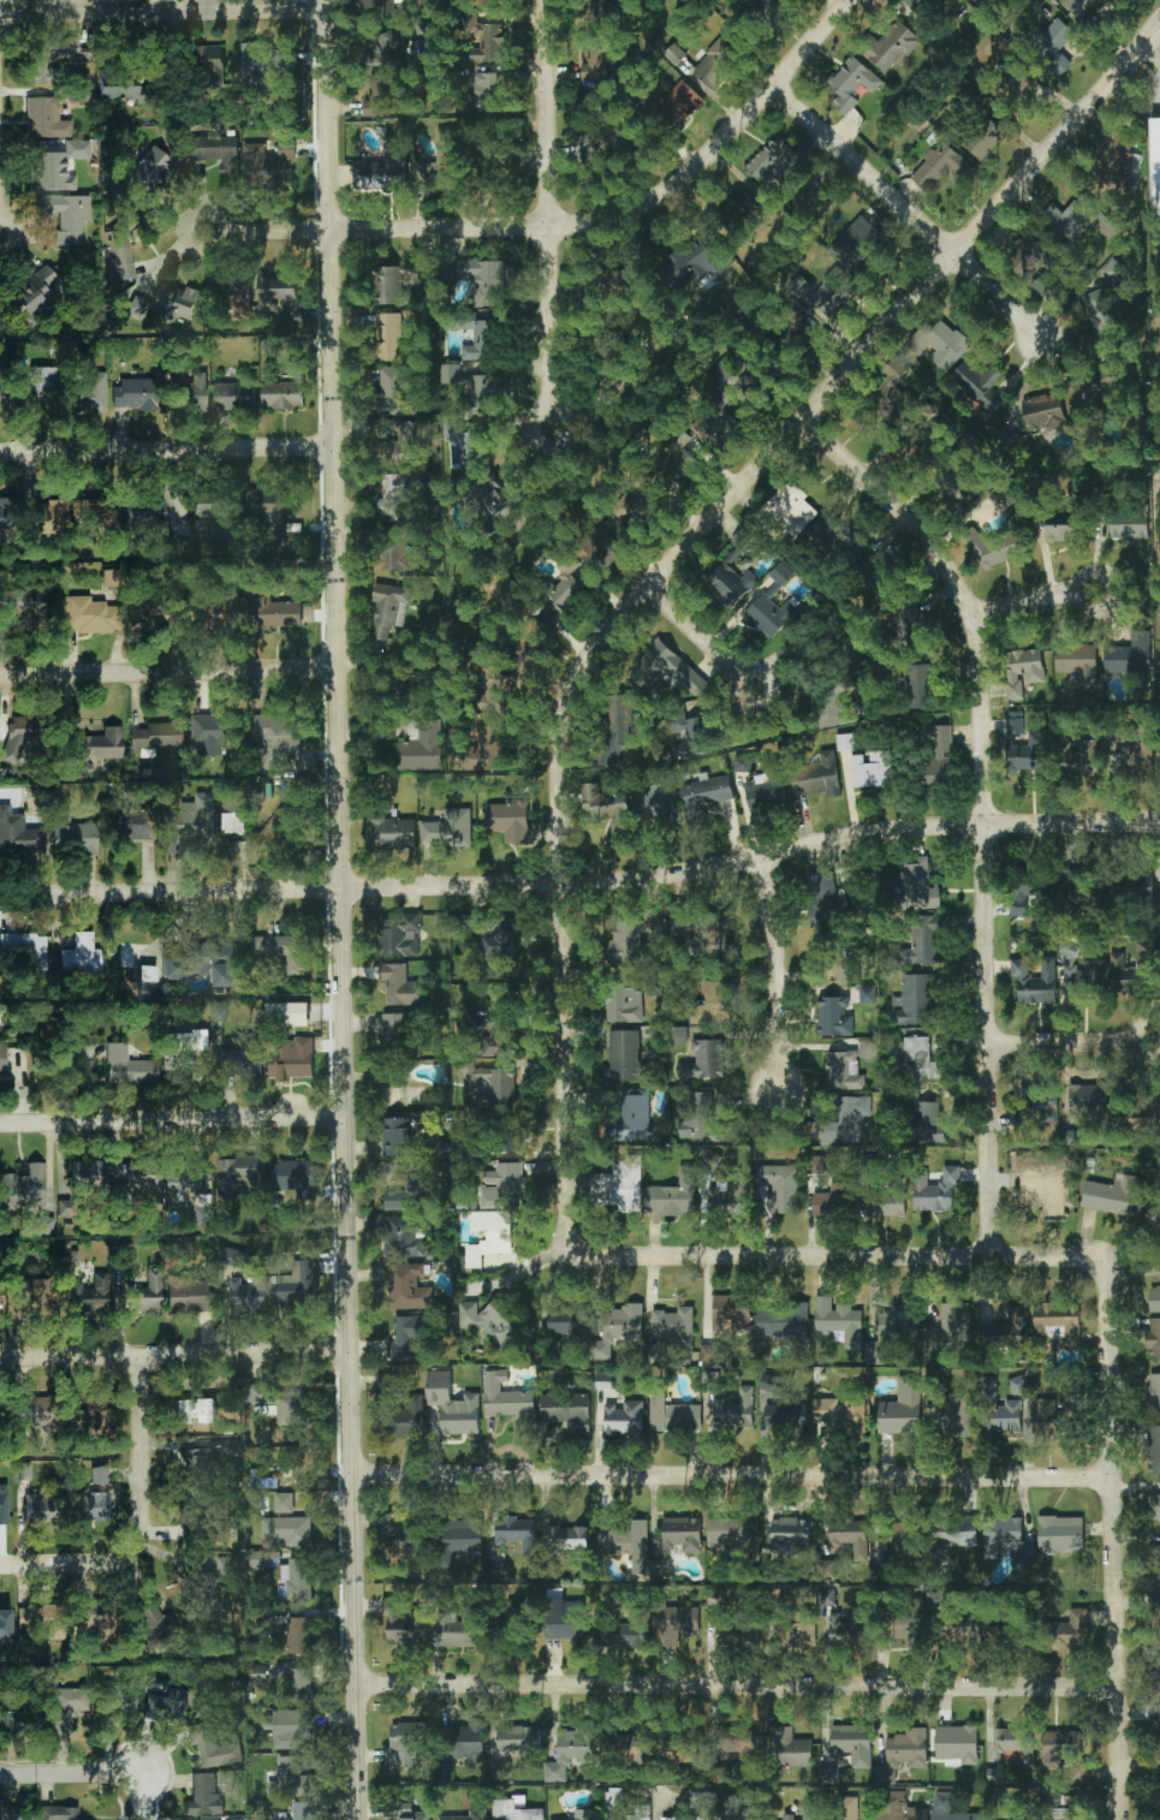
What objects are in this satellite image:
park: (142, 2)
building: (771, 4)
road: (163, 5)
building: (382, 5)
building: (920, 5)
building: (1081, 7)
road: (1158, 38)
building: (488, 42)
building: (1053, 46)
building: (388, 47)
building: (892, 47)
building: (49, 58)
building: (714, 61)
building: (266, 63)
building: (595, 63)
building: (852, 84)
building: (488, 89)
building: (130, 90)
building: (82, 93)
building: (382, 95)
building: (683, 102)
building: (46, 118)
building: (624, 138)
building: (984, 139)
road: (719, 145)
building: (216, 153)
building: (773, 162)
building: (1120, 162)
building: (56, 165)
building: (267, 165)
building: (1154, 166)
building: (149, 167)
building: (940, 167)
building: (444, 168)
building: (381, 172)
building: (739, 208)
road: (912, 213)
building: (67, 215)
road: (546, 215)
building: (1081, 221)
road: (376, 228)
building: (861, 236)
building: (120, 249)
building: (1031, 257)
building: (689, 263)
building: (1114, 272)
building: (480, 280)
building: (389, 285)
building: (1041, 285)
building: (32, 293)
building: (832, 293)
building: (280, 296)
building: (178, 301)
building: (136, 307)
building: (1100, 313)
building: (392, 339)
building: (481, 339)
building: (801, 339)
building: (939, 343)
building: (755, 379)
building: (1, 383)
building: (42, 383)
building: (978, 383)
building: (1095, 386)
building: (475, 388)
building: (285, 389)
building: (88, 392)
building: (397, 392)
building: (136, 393)
building: (190, 393)
building: (237, 393)
building: (1043, 412)
building: (715, 420)
building: (403, 441)
road: (168, 447)
building: (469, 447)
building: (684, 463)
building: (956, 488)
building: (398, 493)
building: (1001, 496)
building: (1079, 498)
building: (267, 506)
building: (646, 506)
building: (209, 508)
building: (786, 510)
building: (144, 511)
building: (99, 515)
building: (46, 517)
building: (6, 519)
building: (1129, 525)
building: (1063, 529)
building: (186, 546)
building: (599, 548)
building: (997, 548)
building: (394, 554)
road: (670, 563)
building: (111, 577)
building: (564, 589)
building: (725, 593)
building: (6, 600)
road: (1035, 600)
building: (774, 605)
building: (226, 609)
building: (275, 611)
building: (386, 613)
building: (89, 615)
building: (145, 615)
building: (909, 626)
road: (703, 636)
building: (1131, 655)
building: (1077, 662)
building: (672, 667)
building: (1023, 670)
road: (168, 672)
building: (921, 686)
building: (498, 692)
building: (1016, 722)
building: (691, 728)
building: (617, 731)
building: (212, 732)
building: (19, 734)
building: (157, 737)
building: (278, 741)
building: (845, 742)
building: (100, 745)
building: (422, 749)
building: (482, 749)
building: (1030, 753)
building: (938, 755)
building: (1082, 757)
building: (742, 763)
building: (872, 769)
building: (816, 777)
building: (766, 789)
building: (706, 795)
building: (655, 802)
road: (984, 804)
building: (606, 807)
building: (191, 821)
building: (510, 821)
building: (233, 822)
building: (135, 823)
building: (448, 829)
building: (18, 833)
building: (395, 833)
building: (73, 835)
building: (847, 875)
road: (582, 881)
building: (916, 886)
building: (1134, 886)
building: (1081, 891)
building: (1025, 893)
building: (825, 902)
road: (343, 910)
building: (701, 930)
building: (635, 935)
building: (400, 936)
building: (501, 940)
building: (922, 942)
building: (1146, 947)
building: (25, 948)
building: (1069, 948)
building: (257, 950)
building: (287, 952)
building: (81, 956)
building: (138, 956)
building: (206, 964)
building: (841, 973)
road: (775, 974)
building: (1130, 976)
building: (1035, 981)
building: (403, 986)
building: (625, 1001)
building: (914, 1001)
building: (712, 1004)
building: (287, 1013)
building: (833, 1016)
building: (397, 1031)
building: (678, 1035)
building: (493, 1036)
road: (1072, 1043)
building: (182, 1048)
building: (865, 1049)
building: (625, 1057)
building: (2, 1058)
building: (291, 1058)
building: (920, 1059)
building: (237, 1060)
building: (704, 1060)
building: (127, 1066)
building: (843, 1071)
building: (490, 1086)
building: (1088, 1098)
building: (1147, 1107)
building: (635, 1117)
building: (701, 1119)
road: (173, 1120)
building: (845, 1122)
building: (928, 1122)
building: (397, 1137)
building: (512, 1143)
building: (88, 1173)
building: (237, 1173)
building: (293, 1178)
building: (135, 1182)
building: (184, 1184)
building: (22, 1185)
building: (619, 1185)
building: (505, 1186)
building: (781, 1186)
building: (1042, 1189)
building: (936, 1191)
building: (410, 1192)
building: (673, 1195)
building: (1111, 1195)
building: (727, 1196)
building: (885, 1200)
building: (832, 1201)
building: (1155, 1217)
building: (43, 1225)
building: (489, 1236)
building: (403, 1238)
road: (838, 1256)
building: (236, 1257)
building: (298, 1284)
building: (144, 1291)
building: (91, 1292)
building: (250, 1292)
building: (30, 1293)
building: (189, 1296)
building: (1154, 1299)
building: (731, 1313)
building: (784, 1320)
building: (500, 1321)
building: (839, 1321)
building: (619, 1328)
building: (950, 1328)
building: (668, 1330)
building: (1007, 1331)
building: (578, 1332)
building: (1154, 1338)
building: (400, 1344)
building: (709, 1352)
road: (174, 1355)
building: (603, 1380)
building: (710, 1380)
building: (768, 1382)
building: (1018, 1385)
building: (1154, 1394)
building: (1071, 1396)
building: (505, 1398)
building: (453, 1405)
building: (399, 1408)
building: (900, 1409)
building: (195, 1410)
building: (567, 1410)
building: (951, 1410)
building: (736, 1411)
building: (999, 1411)
building: (36, 1412)
building: (839, 1412)
building: (673, 1415)
building: (786, 1416)
building: (1047, 1417)
building: (624, 1418)
building: (88, 1420)
building: (230, 1447)
building: (1154, 1450)
building: (201, 1465)
road: (731, 1476)
building: (282, 1503)
building: (4, 1504)
building: (1154, 1505)
building: (41, 1506)
building: (91, 1506)
road: (143, 1522)
building: (286, 1531)
building: (734, 1533)
building: (518, 1534)
building: (682, 1534)
building: (1060, 1534)
building: (395, 1535)
building: (789, 1535)
building: (953, 1535)
building: (1001, 1535)
building: (898, 1536)
building: (849, 1538)
building: (459, 1540)
building: (572, 1541)
road: (1111, 1541)
building: (627, 1545)
building: (260, 1559)
building: (1156, 1564)
building: (226, 1570)
building: (499, 1571)
building: (298, 1580)
building: (715, 1596)
building: (936, 1602)
building: (1158, 1612)
building: (519, 1613)
building: (94, 1620)
building: (567, 1623)
building: (404, 1624)
building: (676, 1624)
building: (4, 1625)
building: (155, 1625)
building: (459, 1628)
building: (908, 1628)
building: (795, 1630)
building: (847, 1630)
building: (1073, 1630)
building: (727, 1634)
building: (966, 1634)
building: (620, 1635)
building: (298, 1636)
building: (1001, 1636)
building: (1155, 1675)
building: (299, 1684)
road: (734, 1687)
building: (117, 1703)
building: (166, 1703)
building: (66, 1707)
building: (20, 1721)
building: (292, 1730)
building: (1159, 1735)
building: (733, 1737)
building: (518, 1739)
building: (577, 1741)
building: (465, 1743)
building: (212, 1744)
building: (406, 1744)
building: (957, 1744)
building: (851, 1745)
building: (1060, 1747)
building: (789, 1748)
building: (631, 1749)
building: (1011, 1750)
building: (902, 1754)
building: (1079, 1772)
road: (72, 1773)
building: (829, 1776)
building: (293, 1779)
building: (1159, 1792)
road: (145, 1796)
building: (204, 1796)
building: (620, 1807)
building: (697, 1808)
building: (849, 1808)
building: (898, 1808)
building: (950, 1808)
building: (513, 1810)
building: (303, 1812)
building: (807, 1812)
building: (11, 1813)
building: (58, 1813)
building: (585, 1814)
building: (1061, 1814)
building: (412, 1816)
building: (462, 1816)
building: (234, 1819)

